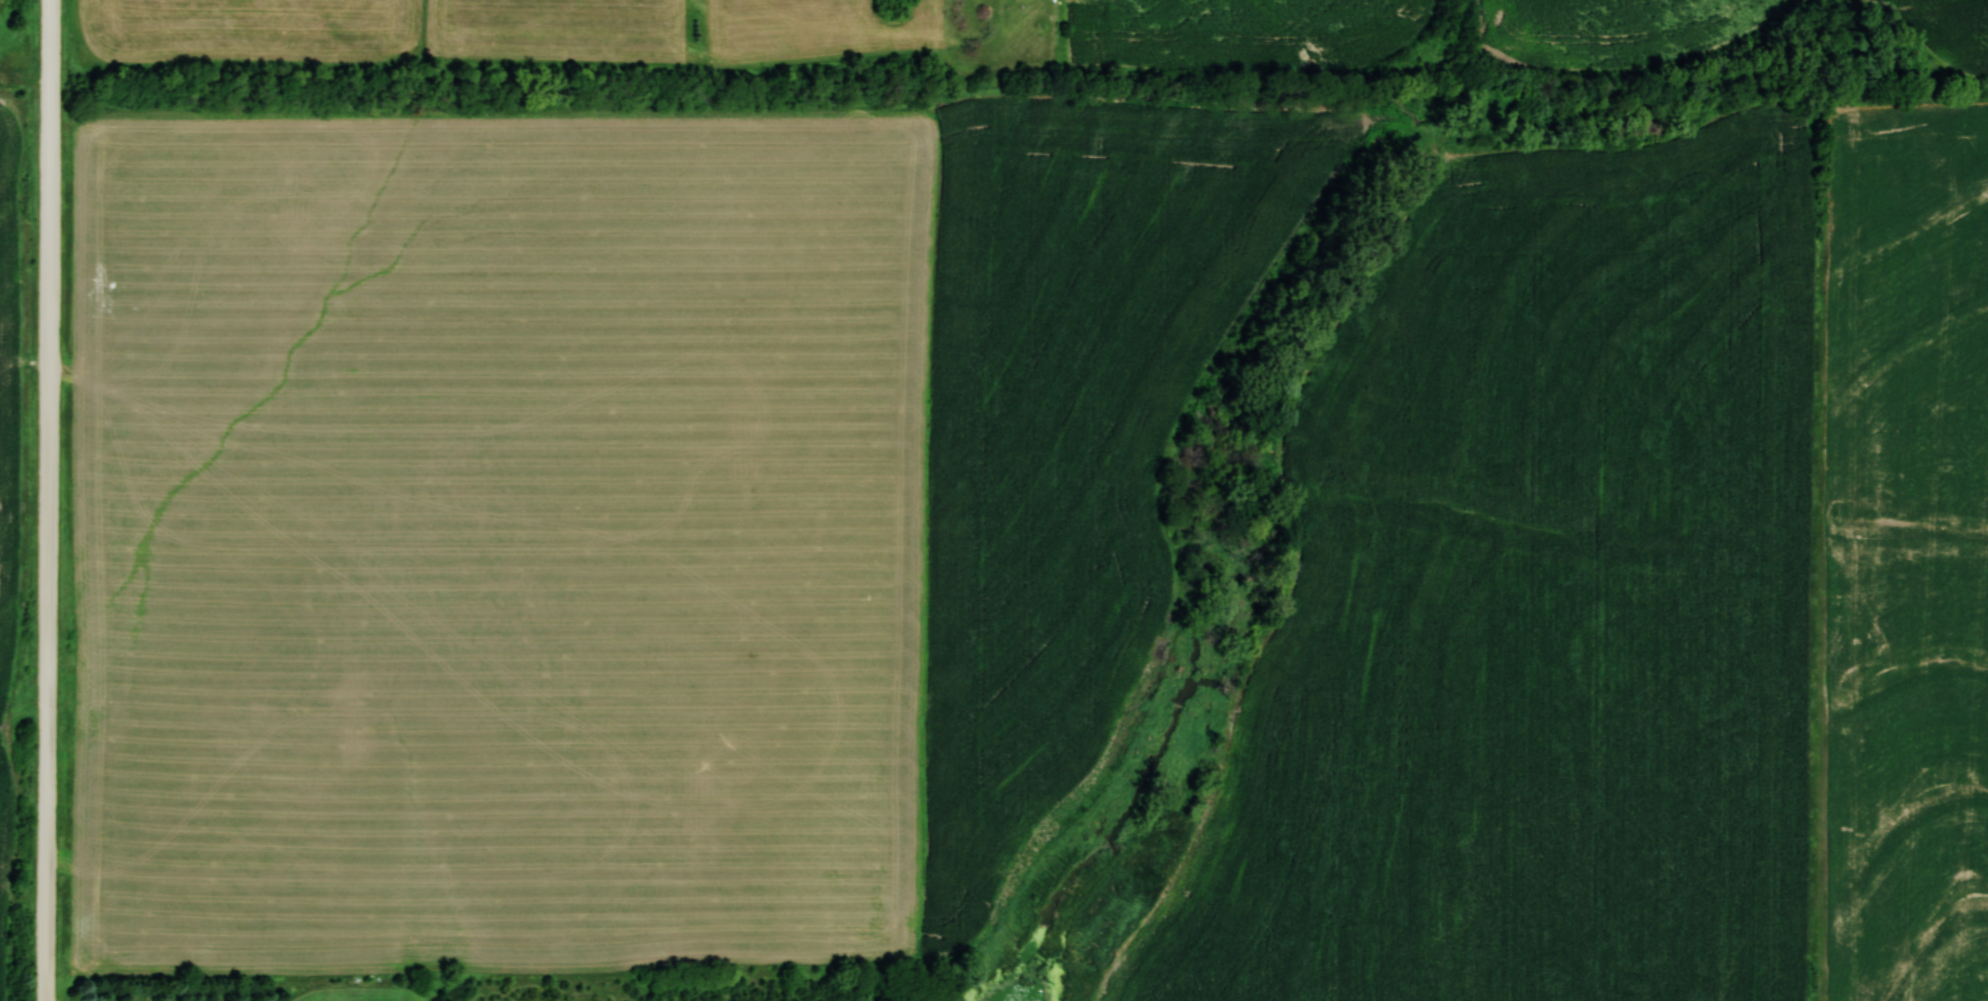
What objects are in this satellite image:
road: (48, 500)

